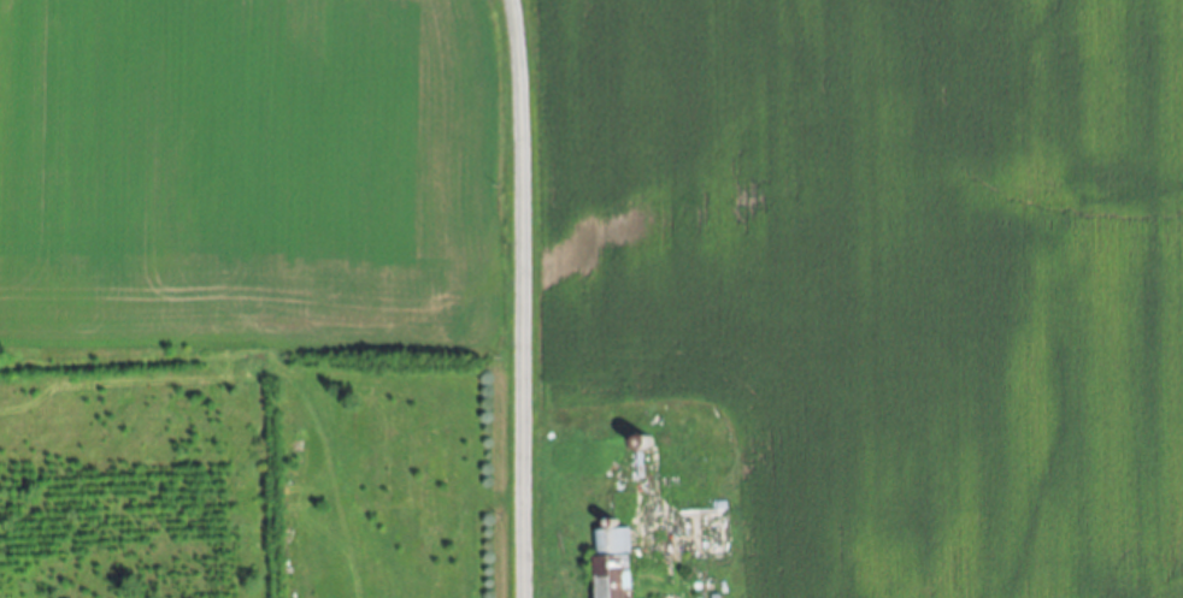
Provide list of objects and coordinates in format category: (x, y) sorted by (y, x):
road: (518, 298)
building: (614, 541)
building: (620, 587)
building: (719, 596)

